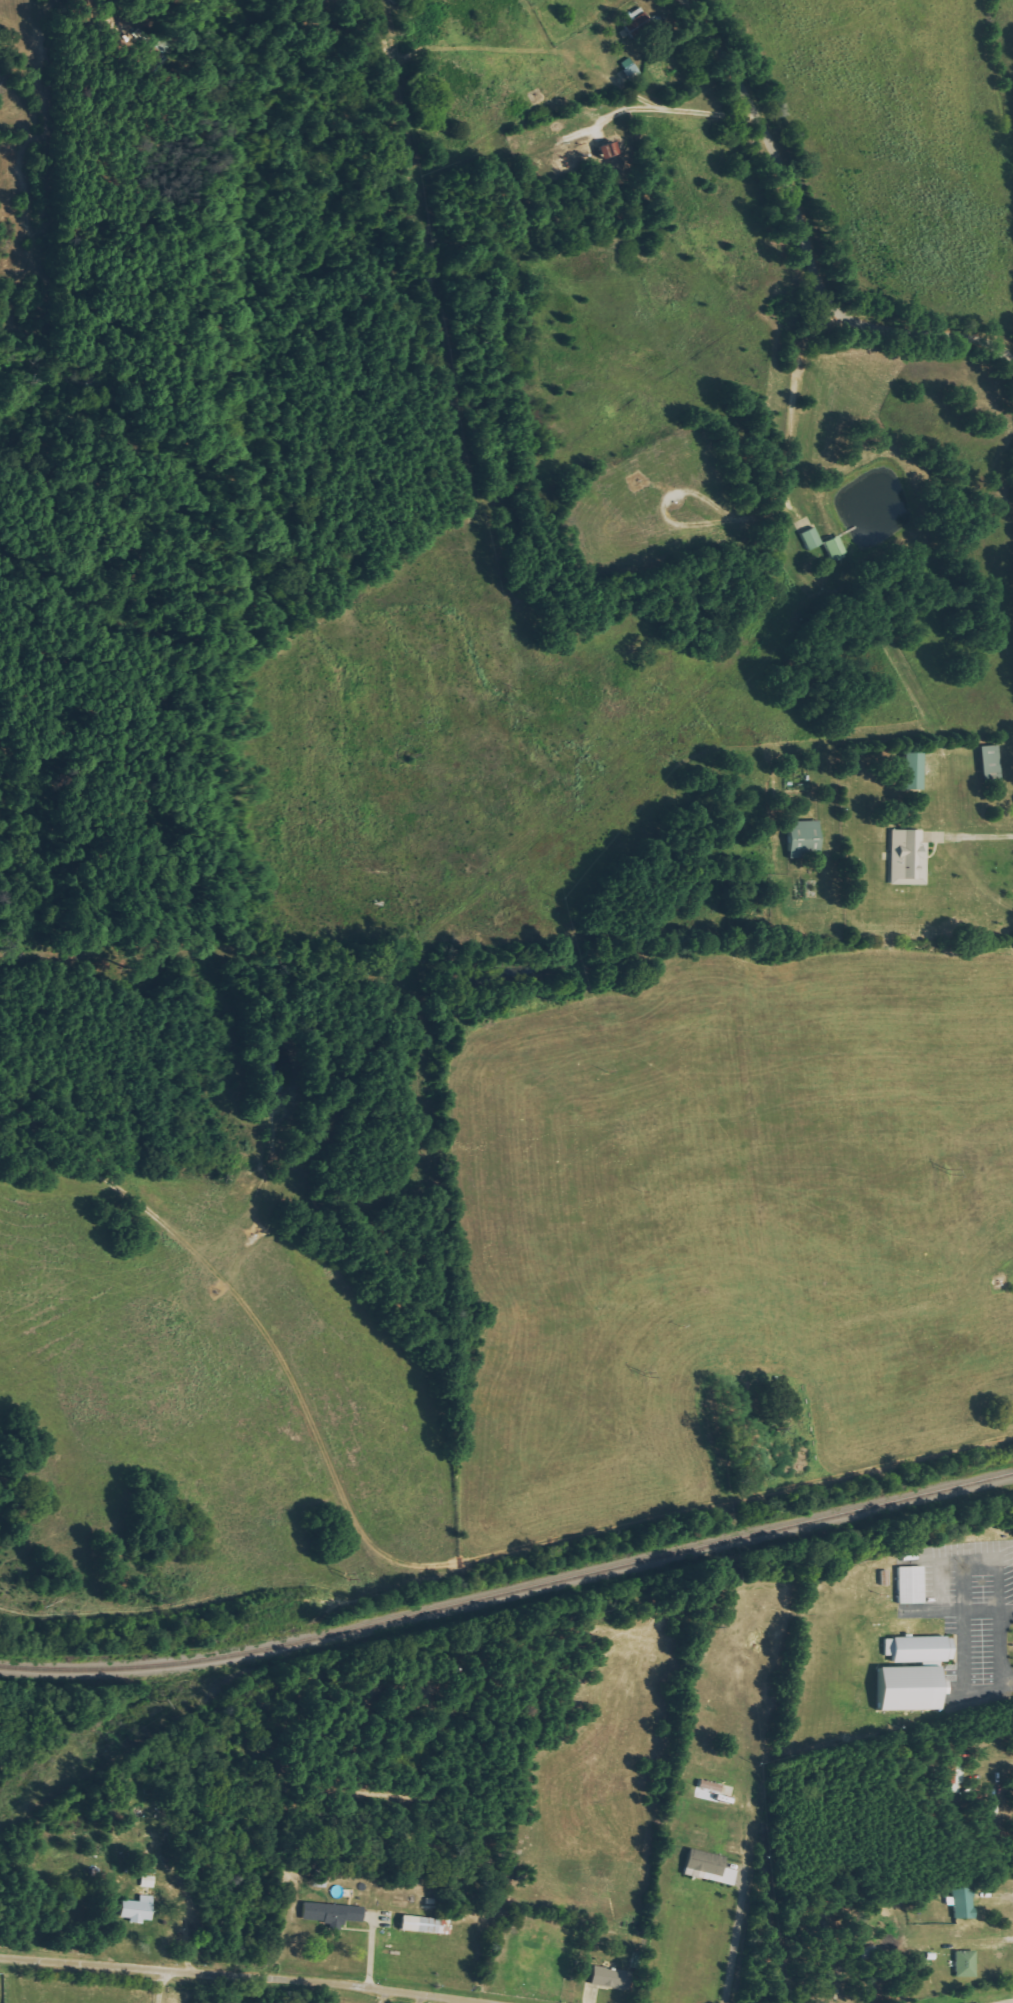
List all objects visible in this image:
building: (635, 24)
building: (604, 150)
road: (804, 234)
building: (809, 539)
building: (832, 547)
building: (987, 760)
building: (911, 772)
building: (801, 838)
building: (906, 859)
power tower: (944, 1169)
power tower: (644, 1373)
power tower: (347, 1576)
building: (909, 1585)
railway: (509, 1591)
building: (918, 1649)
building: (905, 1688)
building: (944, 1688)
power tower: (158, 1704)
building: (956, 1775)
building: (708, 1786)
building: (707, 1868)
building: (146, 1882)
building: (963, 1902)
building: (135, 1909)
building: (329, 1914)
building: (428, 1926)
building: (964, 1964)
building: (607, 1977)
road: (231, 1978)

